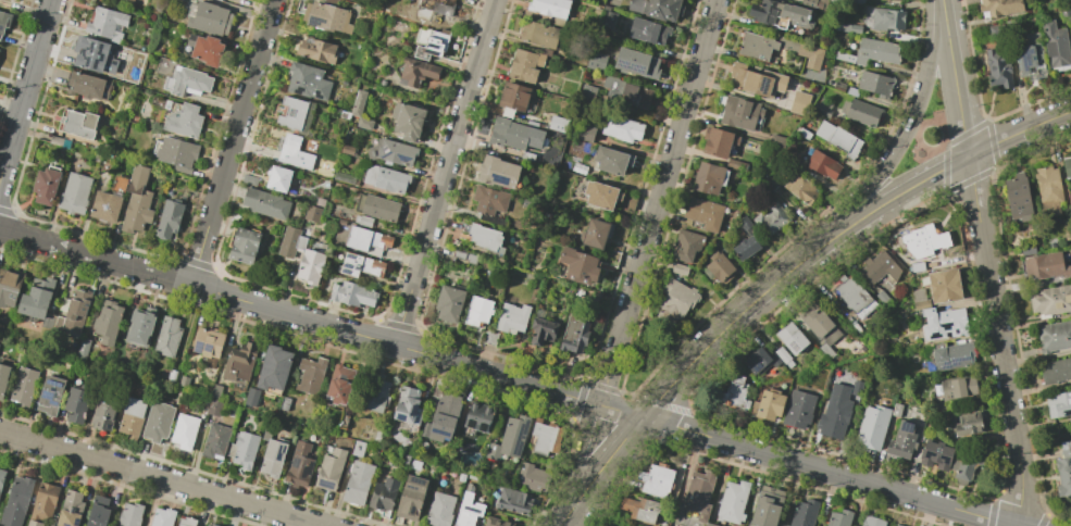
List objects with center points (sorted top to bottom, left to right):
building: (129, 0)
building: (136, 0)
road: (939, 0)
building: (837, 1)
building: (999, 7)
building: (434, 9)
building: (550, 9)
building: (656, 9)
building: (762, 11)
building: (326, 16)
building: (794, 16)
building: (211, 18)
building: (886, 18)
building: (3, 23)
building: (108, 25)
building: (648, 30)
building: (538, 34)
building: (433, 46)
building: (763, 46)
building: (1056, 47)
building: (208, 49)
building: (316, 50)
building: (875, 51)
building: (810, 55)
building: (100, 57)
building: (844, 57)
building: (1030, 58)
building: (595, 61)
building: (636, 62)
rooftop solar panel: (1026, 63)
building: (524, 65)
rooftop solar panel: (626, 66)
rooftop solar panel: (632, 66)
rooftop solar panel: (637, 70)
building: (998, 70)
building: (415, 74)
road: (952, 79)
building: (757, 80)
building: (187, 82)
building: (307, 82)
building: (874, 84)
building: (89, 85)
road: (24, 86)
rooftop solar panel: (762, 86)
building: (850, 91)
building: (625, 92)
building: (512, 98)
building: (359, 103)
building: (798, 103)
building: (822, 109)
building: (739, 112)
building: (860, 112)
building: (292, 113)
rooftop solar panel: (292, 113)
building: (186, 121)
building: (408, 122)
building: (78, 124)
building: (558, 124)
road: (905, 127)
road: (912, 127)
building: (621, 128)
road: (1018, 131)
building: (585, 133)
building: (513, 134)
building: (804, 134)
park: (925, 134)
building: (838, 138)
building: (776, 140)
building: (718, 141)
road: (231, 142)
road: (941, 147)
road: (945, 147)
building: (294, 153)
building: (393, 153)
building: (177, 155)
building: (527, 155)
building: (611, 160)
road: (917, 160)
building: (820, 163)
building: (735, 165)
building: (1067, 171)
road: (444, 172)
building: (497, 172)
building: (710, 177)
building: (137, 179)
building: (249, 179)
building: (278, 179)
building: (387, 179)
rooftop solar panel: (500, 179)
building: (120, 185)
building: (46, 187)
building: (800, 188)
building: (1047, 188)
building: (76, 191)
road: (897, 193)
building: (600, 195)
building: (1017, 198)
building: (488, 200)
road: (657, 202)
building: (265, 203)
building: (107, 206)
building: (378, 209)
building: (138, 213)
building: (312, 213)
building: (703, 214)
building: (170, 218)
building: (771, 218)
building: (594, 234)
building: (486, 238)
building: (747, 239)
building: (924, 240)
building: (366, 241)
building: (300, 242)
building: (685, 245)
building: (244, 246)
road: (95, 256)
rooftop solar panel: (351, 256)
building: (464, 256)
building: (361, 266)
building: (577, 266)
building: (1044, 266)
building: (310, 267)
rooftop solar panel: (351, 267)
building: (718, 267)
building: (879, 267)
building: (678, 268)
rooftop solar panel: (350, 270)
rooftop solar panel: (347, 273)
building: (943, 286)
building: (9, 288)
building: (353, 295)
building: (852, 296)
building: (37, 299)
building: (919, 299)
building: (674, 300)
building: (884, 300)
building: (1050, 300)
building: (449, 303)
building: (76, 312)
building: (477, 312)
building: (511, 318)
building: (945, 321)
road: (731, 322)
building: (109, 323)
building: (140, 327)
building: (820, 329)
building: (541, 330)
building: (573, 333)
building: (1054, 336)
building: (167, 337)
building: (489, 338)
building: (790, 338)
road: (660, 340)
road: (998, 341)
building: (208, 342)
road: (393, 345)
rooftop solar panel: (793, 346)
building: (70, 347)
building: (84, 347)
rooftop solar panel: (199, 348)
rooftop solar panel: (209, 350)
building: (950, 354)
park: (646, 355)
building: (783, 356)
building: (760, 361)
building: (240, 362)
rooftop solar panel: (957, 362)
rooftop solar panel: (946, 368)
building: (273, 371)
building: (1055, 371)
building: (169, 374)
building: (310, 375)
building: (3, 379)
building: (183, 380)
rooftop solar panel: (54, 384)
building: (339, 385)
building: (25, 387)
building: (958, 387)
building: (856, 388)
building: (215, 390)
rooftop solar panel: (53, 391)
building: (735, 392)
building: (377, 393)
building: (51, 396)
building: (251, 396)
rooftop solar panel: (50, 399)
building: (77, 402)
building: (284, 403)
building: (1058, 403)
building: (770, 404)
building: (214, 406)
building: (407, 406)
road: (619, 410)
building: (798, 410)
building: (896, 410)
building: (105, 411)
rooftop solar panel: (414, 413)
building: (834, 413)
building: (478, 416)
building: (132, 417)
rooftop solar panel: (402, 418)
building: (441, 418)
building: (159, 422)
building: (968, 424)
building: (871, 427)
building: (185, 431)
building: (368, 435)
building: (544, 437)
building: (509, 438)
building: (901, 440)
building: (216, 441)
building: (358, 448)
building: (244, 450)
road: (580, 450)
building: (936, 454)
rooftop solar panel: (278, 455)
road: (608, 458)
building: (273, 459)
building: (406, 459)
rooftop solar panel: (296, 464)
building: (967, 464)
building: (299, 465)
building: (415, 465)
building: (331, 469)
rooftop solar panel: (307, 471)
building: (1063, 471)
road: (826, 472)
building: (532, 477)
building: (2, 478)
road: (160, 479)
building: (656, 479)
building: (358, 483)
rooftop solar panel: (418, 483)
rooftop solar panel: (413, 490)
building: (698, 493)
building: (384, 494)
building: (412, 499)
building: (17, 501)
building: (46, 501)
building: (732, 501)
building: (514, 502)
building: (639, 509)
building: (765, 509)
building: (72, 510)
building: (440, 510)
building: (469, 511)
building: (99, 512)
rooftop solar panel: (413, 512)
road: (568, 513)
building: (802, 513)
building: (130, 515)
building: (163, 517)
building: (838, 518)
building: (186, 522)
building: (497, 522)
building: (872, 522)
building: (35, 523)
rooftop solar panel: (77, 523)
building: (709, 524)
building: (211, 525)
building: (897, 525)

